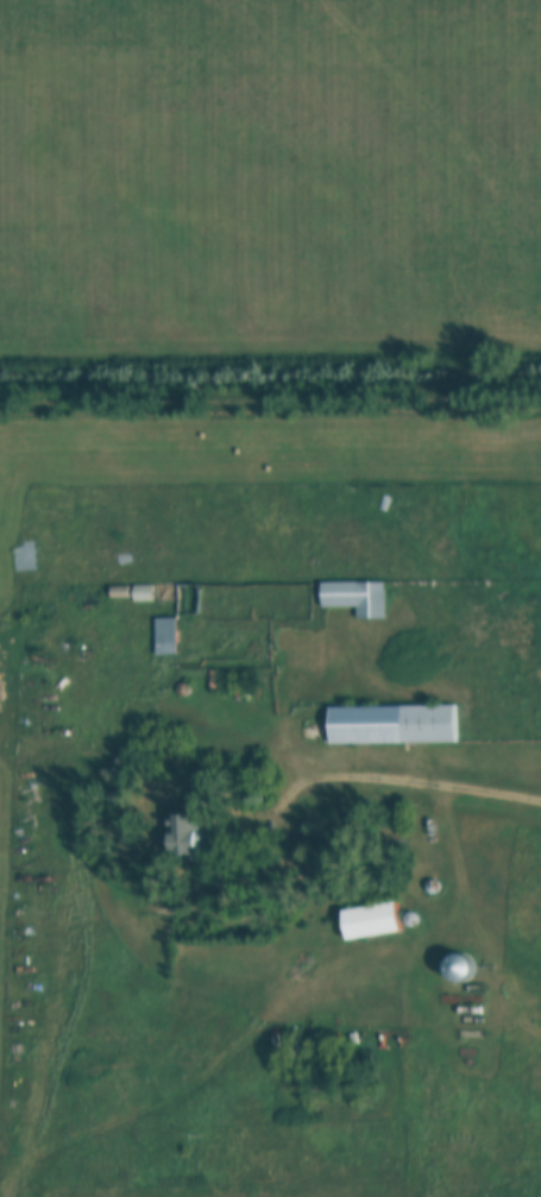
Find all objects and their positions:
road: (269, 472)
building: (141, 594)
building: (356, 596)
building: (181, 599)
building: (165, 635)
building: (392, 723)
road: (403, 777)
building: (181, 834)
building: (371, 920)
building: (459, 965)
road: (313, 981)

